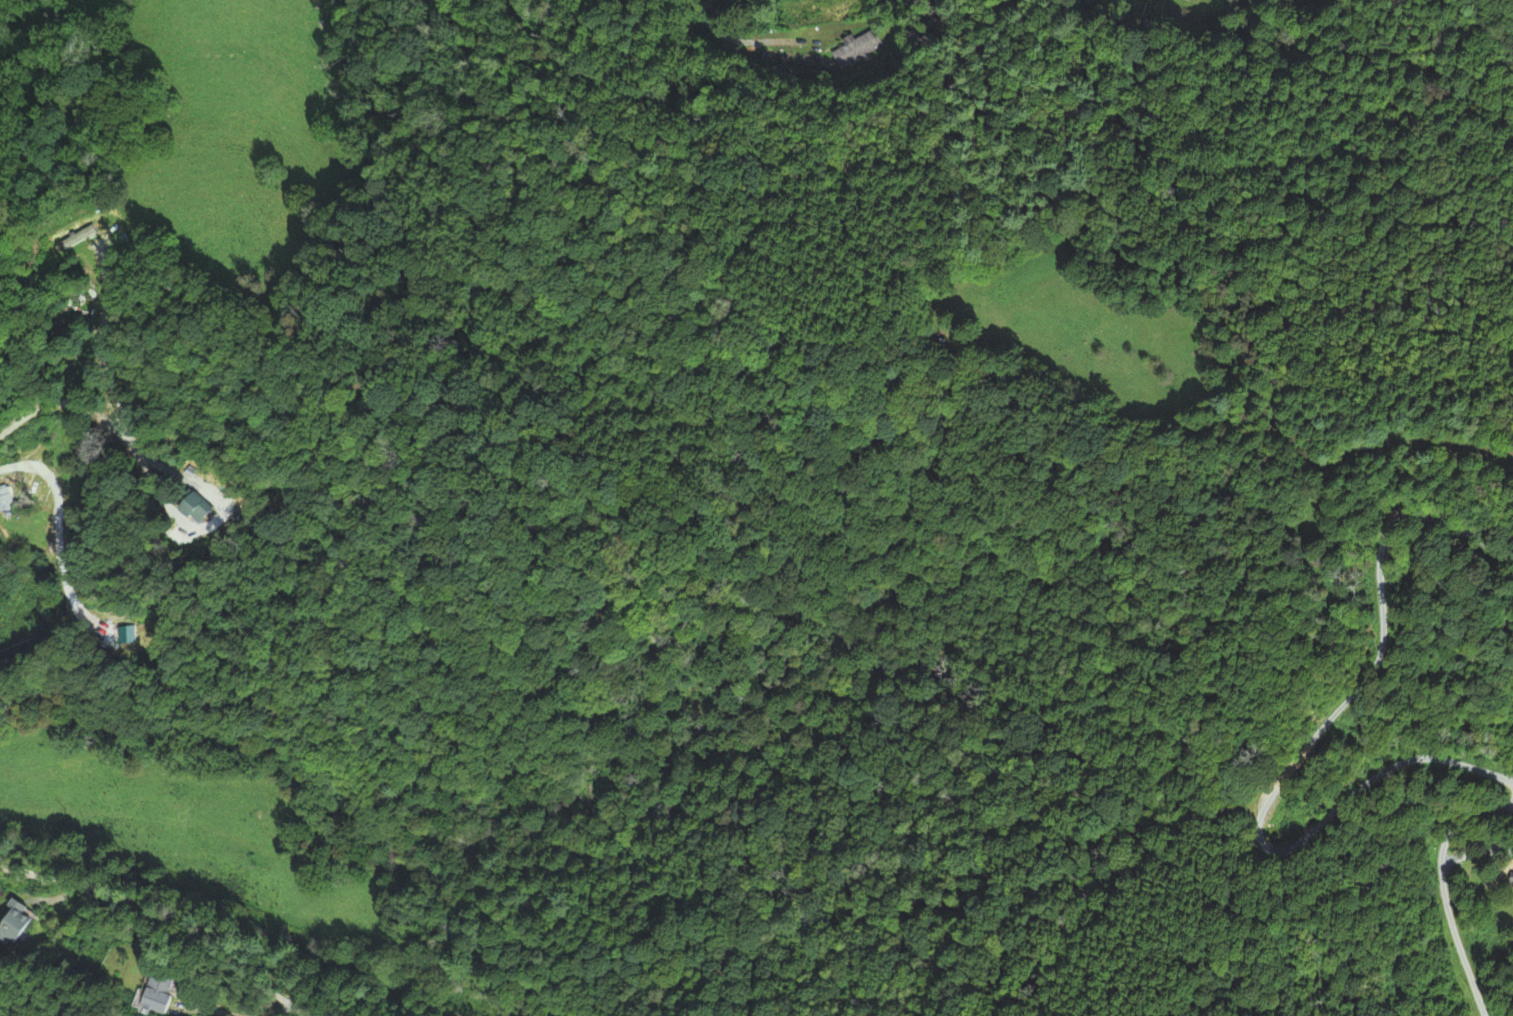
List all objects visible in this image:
road: (723, 36)
building: (856, 47)
road: (79, 406)
building: (180, 513)
building: (108, 634)
road: (166, 919)
building: (10, 922)
building: (146, 993)

